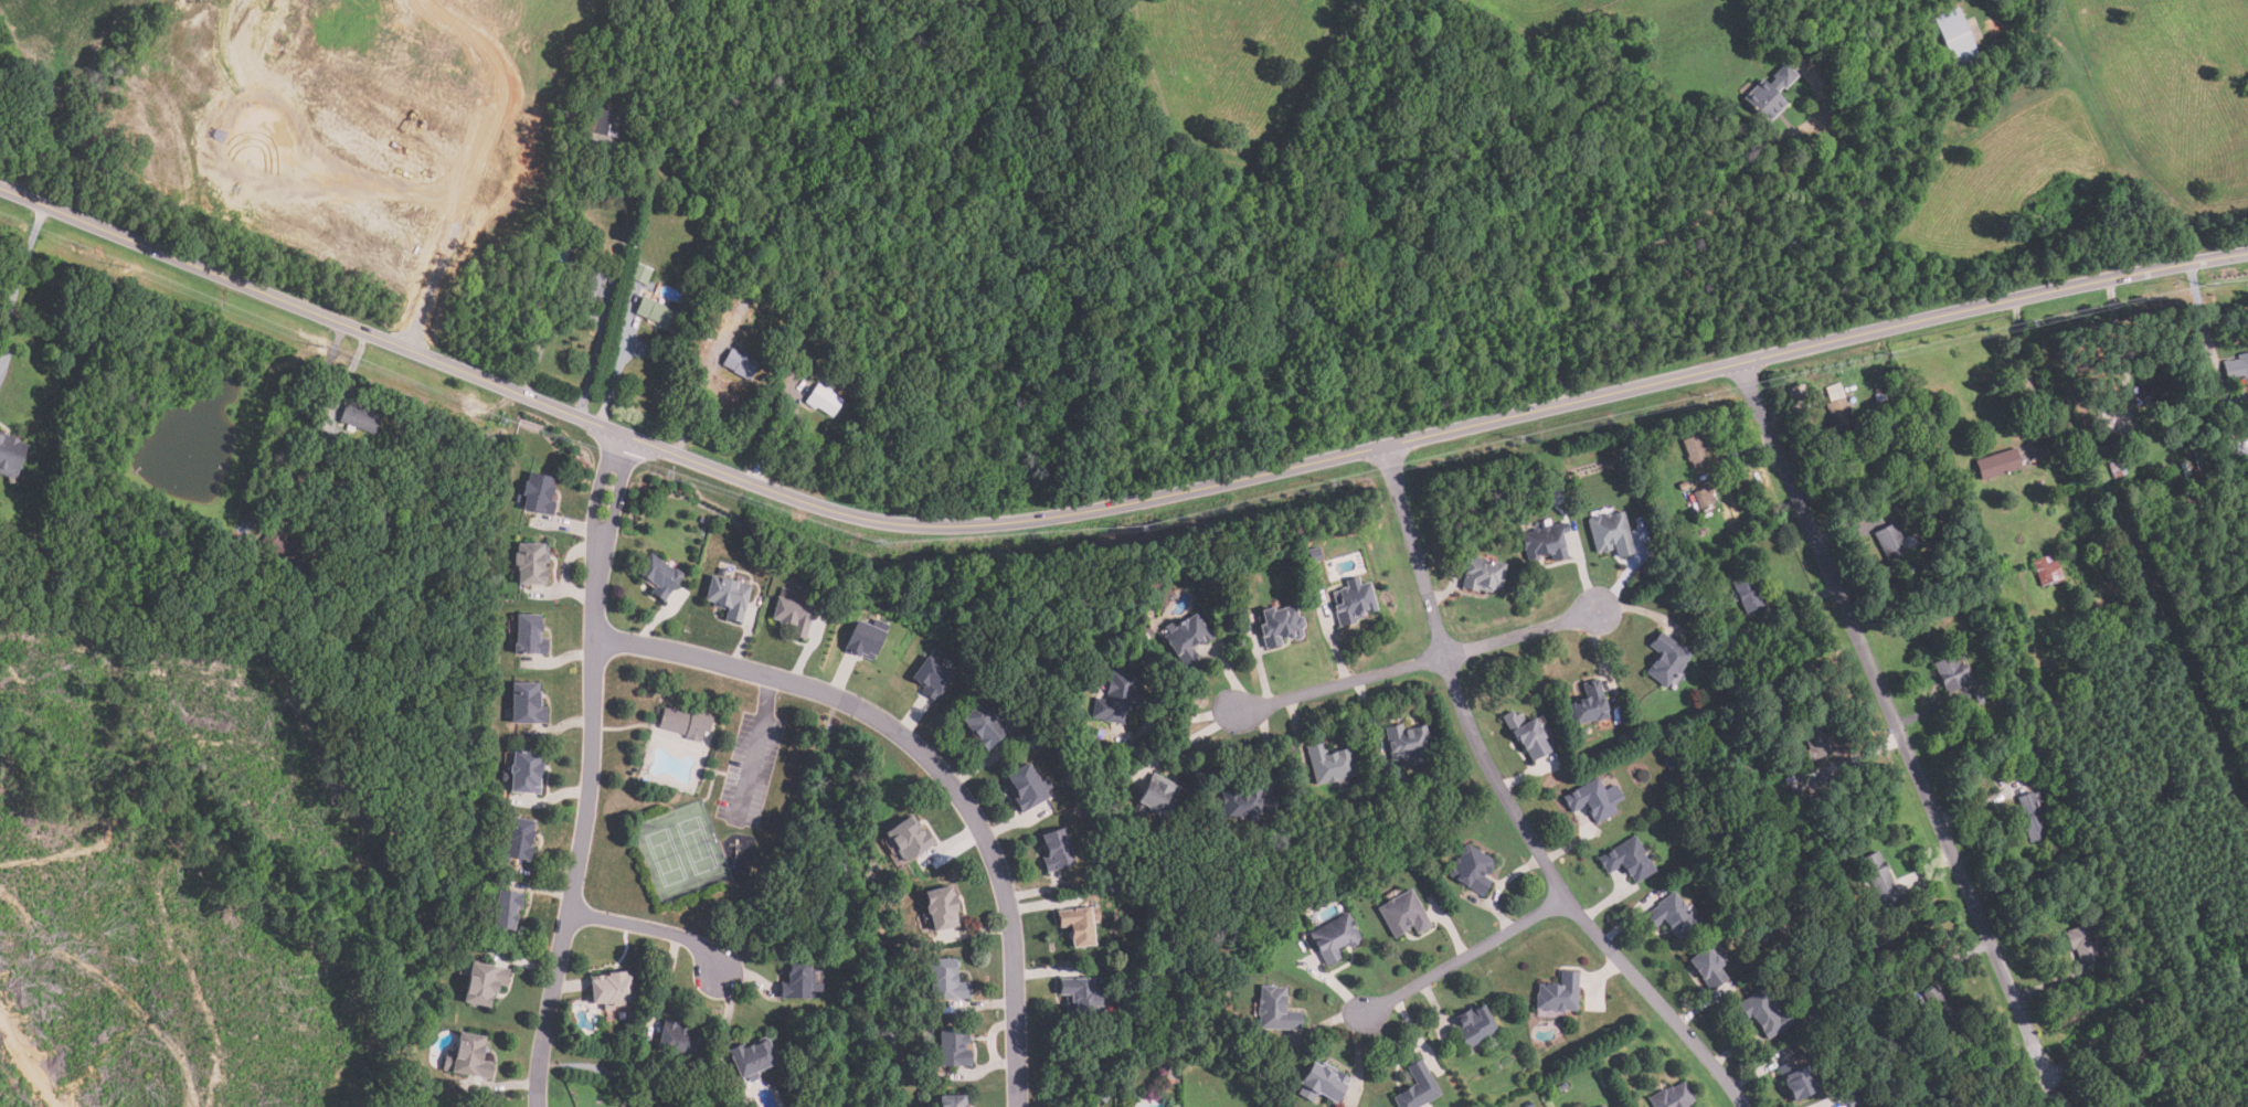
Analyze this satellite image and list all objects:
building: (1957, 36)
building: (1771, 94)
building: (601, 120)
building: (568, 204)
road: (1672, 230)
building: (562, 241)
power tower: (127, 269)
building: (641, 274)
building: (590, 276)
road: (15, 285)
power tower: (2209, 287)
road: (582, 312)
building: (739, 312)
building: (658, 313)
road: (2203, 320)
power tower: (2034, 321)
road: (2119, 334)
power tower: (320, 347)
power tower: (1888, 356)
building: (740, 364)
building: (2236, 366)
road: (614, 374)
road: (2030, 374)
road: (349, 377)
building: (1833, 392)
building: (2156, 392)
road: (694, 394)
power tower: (1705, 397)
building: (824, 400)
road: (1792, 407)
building: (2233, 416)
building: (1838, 417)
road: (289, 418)
building: (358, 418)
power tower: (496, 419)
road: (770, 438)
power tower: (1517, 439)
building: (2108, 444)
building: (1696, 451)
building: (10, 455)
building: (1997, 464)
building: (2119, 469)
power tower: (666, 475)
power tower: (1329, 480)
building: (1684, 485)
building: (537, 493)
building: (1895, 497)
building: (1690, 498)
building: (1704, 498)
road: (1106, 510)
power tower: (1141, 529)
building: (1612, 533)
building: (1546, 543)
power tower: (876, 544)
building: (1894, 545)
building: (291, 552)
building: (244, 555)
building: (530, 562)
building: (2047, 570)
building: (658, 575)
building: (1482, 575)
building: (1748, 594)
building: (728, 597)
building: (1354, 602)
building: (793, 616)
building: (1282, 625)
building: (528, 635)
road: (1523, 636)
building: (866, 638)
building: (1187, 639)
building: (1666, 659)
building: (932, 674)
building: (1951, 674)
road: (1337, 685)
building: (1979, 696)
building: (1117, 698)
building: (526, 704)
building: (1590, 704)
road: (1932, 709)
road: (1891, 717)
building: (685, 723)
building: (983, 724)
building: (1527, 734)
building: (1408, 742)
building: (1815, 745)
road: (755, 748)
road: (1856, 757)
building: (2032, 758)
building: (1330, 764)
road: (930, 765)
parking lot: (750, 769)
road: (591, 770)
building: (523, 771)
building: (1027, 788)
building: (1158, 795)
building: (1801, 799)
building: (1592, 800)
building: (1242, 805)
road: (1980, 805)
road: (1509, 806)
building: (2033, 816)
building: (517, 838)
building: (908, 839)
park: (697, 845)
building: (1057, 850)
park: (666, 858)
building: (1627, 860)
building: (1473, 869)
road: (1928, 872)
building: (1879, 879)
building: (941, 908)
building: (503, 909)
building: (1404, 915)
building: (1674, 916)
building: (1078, 926)
road: (658, 928)
building: (1335, 938)
building: (2085, 944)
road: (1462, 960)
road: (1950, 964)
building: (1708, 968)
building: (798, 981)
building: (946, 981)
road: (2054, 982)
building: (483, 983)
building: (611, 990)
building: (1559, 993)
building: (1081, 994)
building: (1941, 1007)
building: (2148, 1007)
building: (1276, 1010)
building: (1762, 1013)
building: (1475, 1026)
building: (677, 1040)
building: (889, 1045)
building: (953, 1047)
road: (2082, 1053)
building: (466, 1056)
building: (2136, 1057)
building: (751, 1058)
building: (1796, 1081)
building: (1290, 1084)
building: (1323, 1084)
building: (1418, 1087)
road: (2049, 1089)
building: (1673, 1097)
building: (953, 1101)
building: (1854, 1101)
building: (1600, 1106)
building: (1981, 1106)

